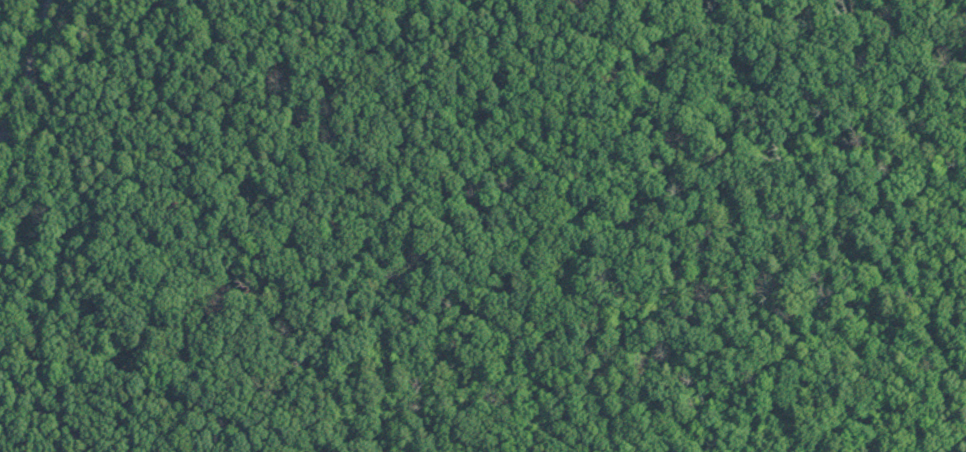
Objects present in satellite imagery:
road: (26, 69)

